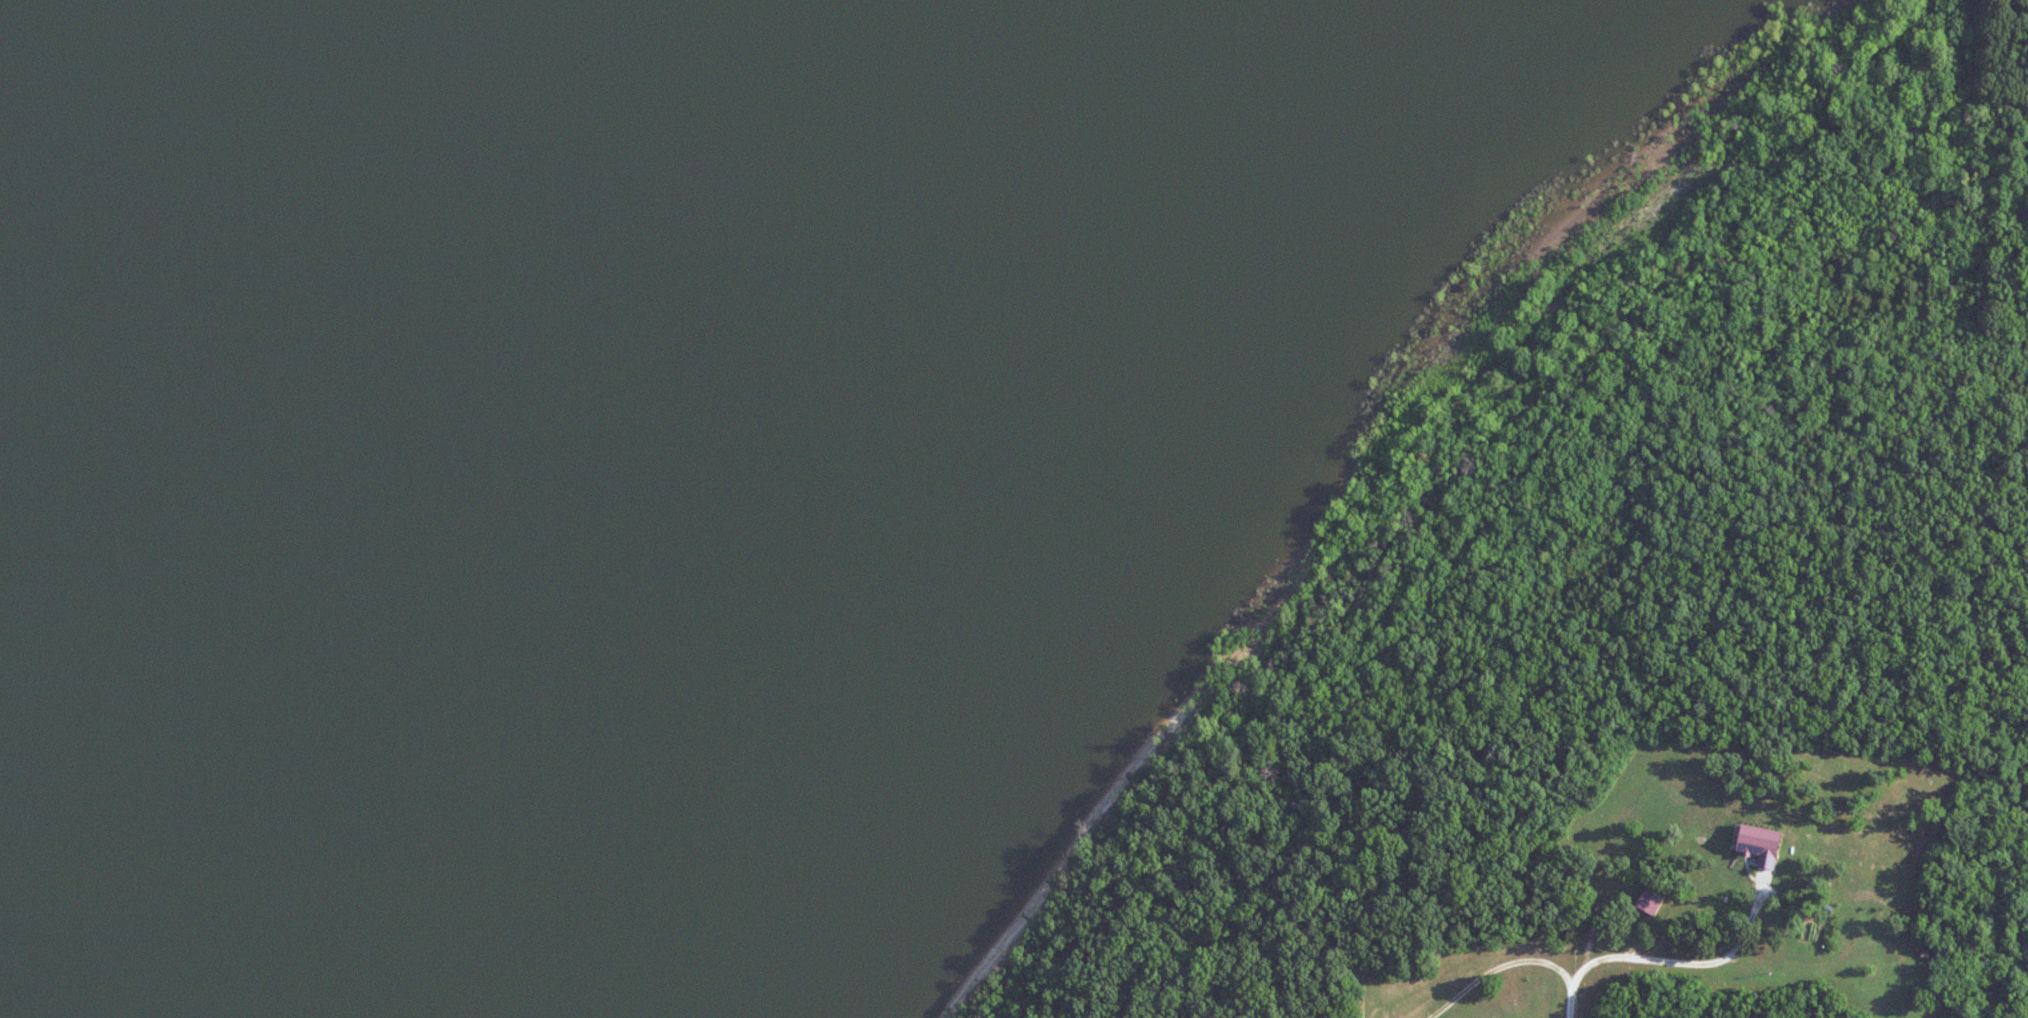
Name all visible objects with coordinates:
building: (1761, 844)
building: (1652, 899)
road: (1748, 920)
road: (1884, 946)
road: (1697, 964)
road: (1498, 970)
road: (1574, 998)

